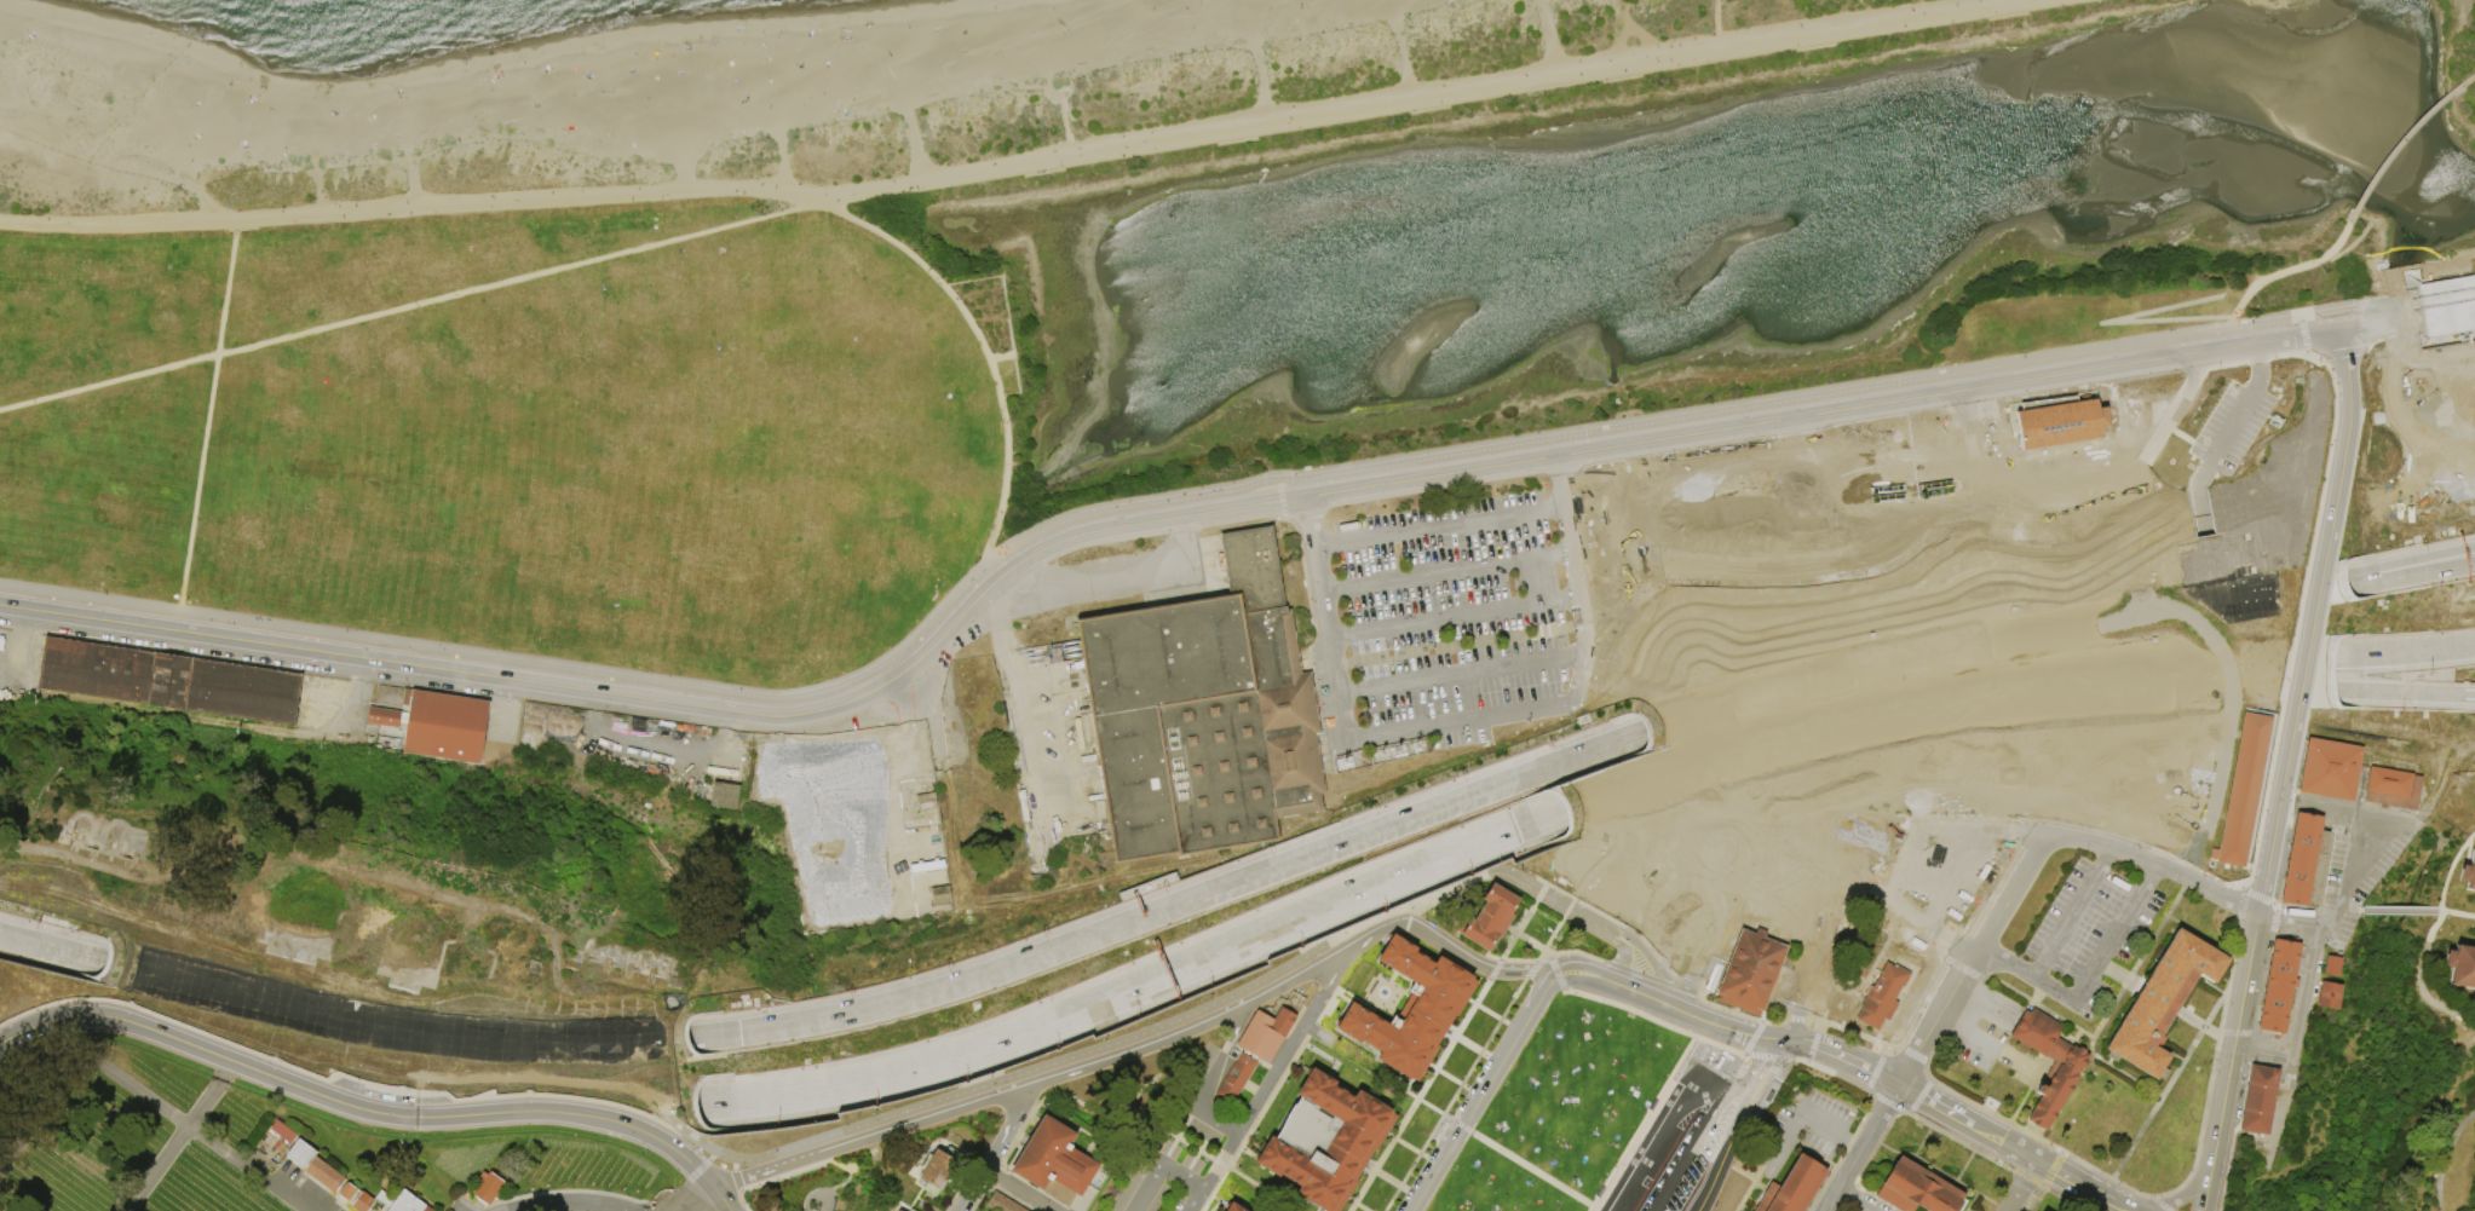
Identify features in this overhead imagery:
road: (2022, 2)
road: (1716, 18)
road: (1625, 34)
road: (1548, 40)
road: (1717, 46)
road: (1405, 62)
road: (2469, 80)
road: (1265, 90)
road: (1322, 119)
road: (1064, 123)
road: (2396, 146)
road: (914, 148)
road: (782, 166)
road: (685, 178)
road: (411, 186)
road: (321, 196)
road: (214, 204)
road: (294, 219)
road: (2350, 246)
road: (2284, 272)
road: (2421, 299)
road: (408, 307)
road: (2333, 312)
road: (2368, 316)
road: (2422, 316)
road: (2106, 323)
road: (2264, 324)
road: (2354, 328)
road: (2371, 335)
road: (2232, 339)
road: (2286, 339)
road: (2302, 340)
road: (2367, 348)
road: (985, 350)
road: (1001, 356)
road: (2335, 357)
road: (2243, 405)
road: (207, 417)
road: (1769, 422)
building: (2060, 425)
road: (1859, 426)
road: (2287, 479)
building: (2094, 480)
building: (1992, 488)
road: (1542, 511)
road: (1089, 515)
road: (1416, 531)
road: (1312, 538)
road: (1571, 544)
road: (2425, 561)
road: (1842, 569)
road: (1303, 571)
road: (2425, 571)
road: (1446, 572)
road: (2360, 578)
road: (2360, 579)
road: (1118, 581)
road: (2160, 602)
park: (1248, 612)
road: (1870, 613)
road: (2210, 613)
road: (2296, 615)
road: (1454, 619)
road: (2310, 621)
parking lot: (1454, 623)
road: (2134, 627)
road: (2001, 632)
road: (1326, 638)
road: (21, 642)
road: (1583, 642)
road: (1447, 645)
road: (2418, 650)
road: (2031, 653)
road: (2346, 654)
road: (242, 662)
road: (1504, 665)
road: (1575, 677)
building: (171, 682)
road: (1381, 686)
road: (1677, 688)
road: (2347, 692)
road: (2410, 694)
road: (2465, 697)
road: (1913, 702)
road: (680, 704)
road: (931, 713)
road: (1019, 714)
building: (1202, 715)
road: (1337, 717)
road: (1456, 721)
building: (439, 726)
road: (1630, 739)
road: (2112, 739)
building: (2331, 769)
building: (2240, 789)
building: (2394, 789)
road: (1743, 790)
road: (1778, 790)
building: (725, 796)
building: (927, 802)
road: (2330, 809)
road: (1728, 815)
road: (1547, 817)
road: (2378, 837)
road: (1826, 841)
road: (1714, 847)
road: (2103, 858)
building: (2306, 863)
road: (2154, 864)
parking lot: (2355, 866)
building: (2468, 873)
road: (2149, 875)
road: (2346, 877)
road: (2010, 894)
road: (2255, 894)
building: (942, 896)
road: (1749, 896)
road: (2177, 899)
road: (2238, 903)
road: (2348, 904)
road: (1174, 905)
road: (1652, 906)
road: (1829, 906)
road: (2274, 906)
road: (2277, 907)
road: (2398, 909)
road: (2457, 912)
road: (1408, 913)
road: (2166, 917)
road: (2286, 917)
building: (1492, 918)
road: (2065, 922)
road: (2270, 922)
road: (1523, 923)
parking lot: (2087, 934)
road: (1376, 935)
road: (1549, 935)
road: (1633, 936)
road: (2430, 940)
road: (2109, 944)
road: (35, 945)
road: (1533, 945)
road: (1716, 948)
road: (1575, 951)
road: (1865, 957)
road: (87, 958)
road: (1502, 958)
road: (1513, 961)
road: (1720, 963)
road: (1478, 967)
building: (2332, 967)
building: (2460, 967)
road: (1527, 969)
road: (1313, 970)
road: (1495, 970)
building: (1749, 971)
road: (1555, 974)
road: (2025, 975)
road: (2227, 976)
road: (327, 978)
road: (1647, 978)
road: (2261, 984)
road: (1140, 986)
building: (2279, 986)
road: (1629, 988)
road: (1694, 988)
road: (2302, 988)
road: (1679, 996)
road: (1979, 996)
road: (2123, 996)
building: (2330, 996)
building: (1883, 998)
road: (1259, 999)
building: (2163, 1003)
road: (1736, 1004)
road: (1737, 1005)
road: (1714, 1007)
road: (2214, 1007)
building: (1414, 1010)
road: (1496, 1017)
road: (1750, 1017)
road: (1935, 1019)
road: (1653, 1021)
road: (1945, 1022)
road: (2197, 1022)
traffic signals: (739, 1031)
road: (1234, 1031)
road: (1789, 1031)
road: (2234, 1033)
road: (704, 1034)
building: (1266, 1034)
road: (1737, 1034)
road: (1750, 1037)
road: (1975, 1040)
road: (1336, 1043)
road: (2233, 1043)
road: (1797, 1044)
road: (1811, 1045)
road: (2261, 1049)
road: (1477, 1050)
road: (2095, 1053)
road: (1766, 1057)
road: (1798, 1060)
road: (1854, 1063)
road: (2019, 1065)
road: (1685, 1067)
road: (1768, 1072)
road: (336, 1074)
road: (1836, 1074)
road: (1209, 1078)
building: (1237, 1079)
road: (1270, 1080)
road: (1457, 1083)
road: (1485, 1088)
building: (2057, 1089)
road: (1452, 1094)
road: (1418, 1095)
road: (1742, 1095)
building: (2258, 1100)
road: (715, 1103)
road: (978, 1105)
road: (1888, 1105)
building: (1130, 1106)
road: (1932, 1106)
road: (346, 1109)
road: (2279, 1112)
road: (1801, 1117)
road: (45, 1118)
road: (1216, 1119)
road: (1641, 1120)
road: (1253, 1123)
road: (195, 1134)
road: (1984, 1134)
parking lot: (1677, 1135)
road: (825, 1136)
road: (178, 1137)
road: (1854, 1140)
road: (1956, 1141)
building: (1328, 1142)
road: (1921, 1144)
road: (1858, 1147)
road: (2130, 1147)
road: (995, 1148)
road: (1693, 1149)
road: (1416, 1151)
road: (1842, 1151)
road: (2019, 1153)
park: (282, 1154)
building: (300, 1154)
road: (1726, 1155)
road: (2445, 1157)
road: (712, 1158)
road: (1631, 1158)
building: (1054, 1159)
road: (833, 1163)
road: (732, 1165)
road: (1725, 1165)
road: (702, 1166)
road: (1526, 1166)
road: (1864, 1166)
road: (1159, 1167)
road: (1963, 1169)
road: (2049, 1169)
building: (940, 1170)
road: (1938, 1172)
road: (781, 1175)
building: (323, 1176)
road: (2187, 1176)
road: (690, 1177)
road: (2022, 1177)
road: (704, 1181)
road: (735, 1181)
road: (1928, 1181)
road: (1749, 1183)
road: (2074, 1183)
road: (1397, 1184)
building: (485, 1187)
road: (1259, 1187)
road: (2024, 1187)
building: (1790, 1188)
building: (1915, 1189)
road: (562, 1190)
road: (1015, 1190)
building: (345, 1192)
road: (815, 1193)
road: (1843, 1193)
road: (1873, 1193)
road: (2203, 1193)
road: (2186, 1194)
road: (667, 1195)
road: (977, 1198)
road: (697, 1200)
road: (719, 1200)
building: (399, 1201)
road: (741, 1201)
building: (362, 1203)
road: (1970, 1203)
road: (570, 1204)
building: (1000, 1204)
parking lot: (1861, 1204)
road: (1863, 1205)
road: (1360, 1206)
road: (1959, 1206)
road: (654, 1207)
building: (1230, 1207)
building: (1236, 1207)
road: (1588, 1207)
road: (1601, 1207)
road: (1688, 1207)
road: (2117, 1207)
road: (2153, 1209)
building: (911, 1210)

